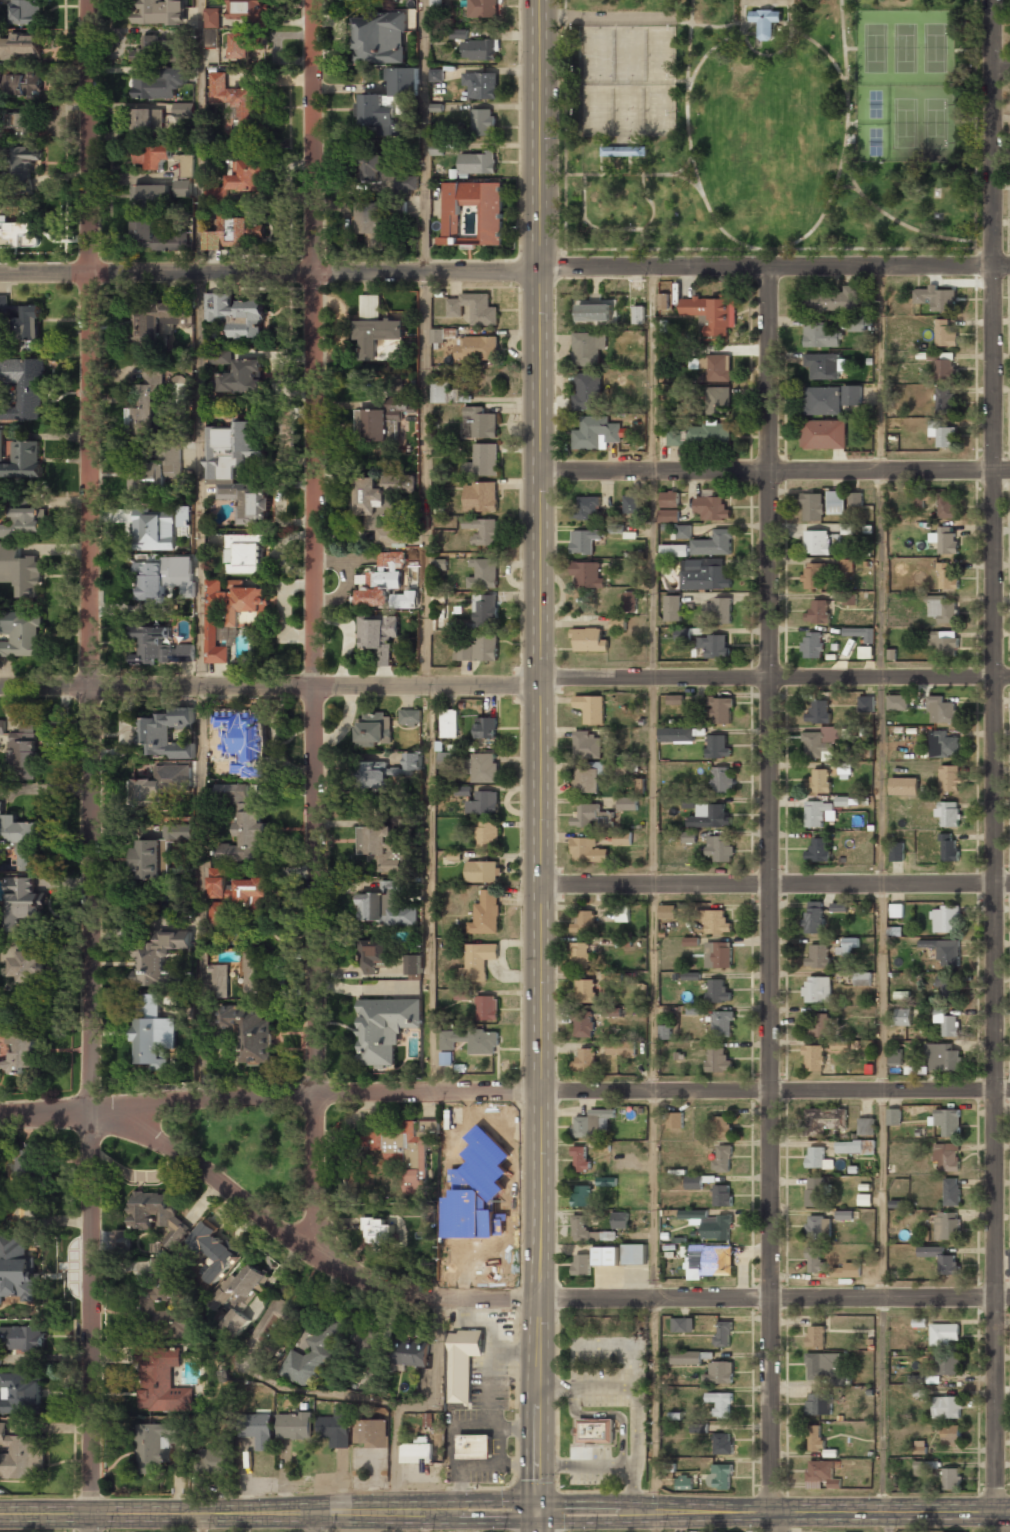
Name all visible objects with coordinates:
road: (767, 1)
road: (768, 2)
building: (482, 8)
building: (249, 10)
building: (25, 11)
building: (159, 12)
building: (213, 17)
road: (606, 18)
building: (767, 22)
road: (722, 26)
building: (212, 37)
building: (380, 37)
road: (845, 38)
road: (691, 43)
building: (242, 46)
building: (159, 49)
building: (478, 50)
road: (768, 54)
road: (1002, 64)
building: (2, 65)
building: (436, 75)
park: (629, 81)
building: (158, 84)
park: (907, 84)
building: (481, 86)
building: (234, 96)
building: (386, 102)
building: (183, 110)
building: (147, 119)
building: (25, 123)
building: (483, 123)
park: (765, 128)
road: (689, 129)
road: (846, 133)
building: (437, 148)
building: (624, 151)
building: (151, 155)
building: (24, 159)
road: (602, 159)
building: (477, 164)
building: (186, 166)
road: (848, 166)
building: (388, 172)
road: (633, 173)
building: (240, 178)
building: (183, 189)
building: (151, 195)
building: (472, 214)
building: (23, 224)
building: (371, 224)
road: (903, 224)
road: (621, 228)
building: (237, 231)
building: (159, 236)
road: (994, 236)
road: (538, 237)
road: (642, 238)
road: (88, 245)
road: (320, 246)
road: (771, 249)
road: (643, 257)
road: (505, 272)
building: (936, 298)
building: (835, 299)
building: (595, 308)
building: (472, 309)
building: (712, 312)
building: (238, 314)
building: (639, 314)
building: (159, 320)
building: (21, 321)
building: (860, 323)
building: (375, 328)
building: (946, 333)
building: (437, 335)
building: (821, 336)
road: (200, 342)
building: (588, 347)
building: (477, 349)
building: (679, 350)
building: (220, 356)
building: (826, 365)
building: (716, 367)
building: (945, 368)
road: (772, 369)
building: (243, 375)
building: (23, 388)
building: (589, 391)
building: (179, 393)
building: (441, 393)
building: (852, 394)
building: (718, 400)
building: (822, 400)
building: (944, 400)
building: (146, 403)
building: (381, 421)
building: (479, 424)
building: (392, 430)
building: (596, 432)
building: (711, 433)
building: (943, 433)
building: (823, 434)
building: (677, 438)
building: (1, 444)
building: (24, 461)
building: (483, 461)
building: (155, 467)
road: (775, 472)
building: (221, 476)
building: (480, 497)
building: (670, 498)
building: (856, 499)
building: (633, 501)
building: (836, 501)
building: (712, 506)
building: (813, 506)
building: (946, 506)
building: (586, 507)
building: (377, 509)
building: (668, 515)
building: (24, 522)
building: (350, 526)
building: (848, 528)
building: (152, 530)
building: (482, 530)
building: (945, 539)
building: (584, 540)
building: (817, 542)
building: (714, 543)
road: (427, 546)
building: (246, 554)
building: (389, 560)
building: (441, 564)
building: (846, 565)
building: (22, 569)
building: (483, 573)
building: (588, 574)
building: (704, 574)
building: (816, 575)
building: (948, 576)
building: (156, 577)
building: (376, 590)
building: (849, 597)
building: (630, 601)
building: (672, 607)
building: (942, 609)
building: (485, 610)
building: (718, 610)
building: (818, 611)
building: (230, 617)
building: (618, 623)
building: (21, 633)
building: (861, 633)
building: (377, 635)
building: (589, 639)
building: (945, 642)
building: (813, 644)
building: (715, 645)
building: (159, 648)
building: (479, 650)
road: (505, 685)
building: (675, 699)
building: (898, 702)
building: (866, 703)
building: (591, 708)
building: (722, 709)
building: (941, 709)
building: (818, 712)
building: (410, 718)
building: (28, 721)
building: (449, 721)
building: (1, 727)
building: (487, 728)
building: (374, 729)
building: (159, 732)
building: (239, 734)
building: (676, 734)
building: (821, 742)
building: (587, 744)
building: (943, 744)
building: (718, 746)
building: (25, 751)
building: (446, 759)
building: (412, 762)
building: (483, 769)
building: (844, 770)
building: (375, 775)
building: (949, 778)
building: (722, 779)
building: (586, 780)
building: (820, 780)
building: (156, 784)
building: (904, 785)
building: (463, 790)
building: (842, 800)
building: (483, 803)
building: (628, 803)
building: (1, 808)
building: (819, 812)
building: (948, 814)
building: (592, 816)
building: (710, 816)
building: (245, 819)
building: (17, 830)
building: (177, 831)
building: (488, 834)
building: (690, 836)
building: (623, 838)
building: (380, 847)
building: (720, 847)
building: (949, 847)
building: (819, 849)
building: (588, 850)
building: (897, 851)
building: (151, 858)
building: (483, 871)
road: (314, 875)
road: (775, 883)
building: (237, 888)
road: (653, 888)
road: (881, 888)
road: (201, 893)
building: (25, 901)
building: (375, 901)
building: (839, 906)
building: (222, 911)
building: (668, 911)
building: (623, 913)
building: (486, 914)
building: (814, 916)
building: (945, 919)
building: (715, 921)
building: (584, 922)
building: (848, 945)
building: (944, 950)
building: (581, 954)
building: (719, 954)
building: (818, 956)
building: (160, 957)
building: (373, 957)
building: (479, 960)
building: (30, 965)
building: (415, 966)
building: (254, 971)
building: (862, 978)
building: (220, 980)
building: (944, 985)
building: (818, 988)
building: (586, 990)
building: (718, 990)
building: (463, 994)
road: (771, 1002)
road: (995, 1002)
road: (540, 1003)
building: (487, 1008)
building: (696, 1010)
road: (92, 1011)
building: (611, 1011)
building: (903, 1016)
building: (947, 1022)
building: (584, 1023)
building: (723, 1023)
building: (819, 1025)
building: (385, 1028)
building: (250, 1031)
building: (665, 1031)
building: (148, 1036)
building: (470, 1041)
building: (620, 1048)
building: (21, 1053)
building: (896, 1056)
building: (815, 1057)
building: (940, 1058)
building: (718, 1059)
building: (585, 1060)
road: (775, 1090)
road: (269, 1095)
building: (894, 1116)
building: (675, 1120)
building: (825, 1120)
building: (947, 1121)
building: (594, 1123)
building: (722, 1126)
building: (866, 1126)
building: (481, 1146)
building: (604, 1146)
building: (855, 1146)
building: (401, 1148)
park: (250, 1152)
building: (948, 1156)
building: (818, 1158)
building: (581, 1159)
building: (31, 1166)
building: (694, 1182)
building: (414, 1183)
building: (817, 1191)
building: (951, 1191)
building: (582, 1195)
building: (722, 1195)
building: (845, 1214)
building: (158, 1215)
building: (620, 1219)
building: (709, 1223)
building: (947, 1225)
building: (815, 1226)
building: (379, 1229)
building: (589, 1231)
building: (124, 1238)
building: (215, 1250)
building: (24, 1251)
road: (310, 1251)
building: (635, 1254)
building: (606, 1255)
building: (941, 1259)
building: (709, 1260)
building: (816, 1260)
building: (478, 1263)
building: (582, 1264)
building: (847, 1270)
building: (243, 1286)
building: (157, 1294)
road: (775, 1297)
building: (235, 1322)
building: (682, 1324)
building: (267, 1325)
building: (944, 1333)
building: (724, 1334)
building: (816, 1336)
building: (22, 1338)
building: (362, 1347)
building: (411, 1353)
building: (313, 1355)
building: (686, 1357)
building: (0, 1358)
building: (463, 1363)
building: (943, 1363)
building: (823, 1364)
building: (719, 1373)
building: (918, 1380)
building: (161, 1384)
building: (20, 1392)
building: (721, 1403)
building: (820, 1403)
building: (947, 1407)
building: (431, 1419)
building: (294, 1427)
building: (334, 1430)
building: (258, 1431)
building: (594, 1431)
building: (371, 1434)
building: (950, 1434)
building: (816, 1438)
building: (723, 1443)
building: (474, 1447)
building: (155, 1452)
building: (416, 1453)
building: (19, 1455)
building: (211, 1461)
building: (924, 1468)
building: (822, 1475)
building: (720, 1476)
building: (951, 1478)
building: (684, 1482)
road: (505, 1508)
traffic signals: (539, 1508)
road: (202, 1520)
road: (424, 1520)
road: (317, 1521)
road: (656, 1521)
road: (887, 1522)

